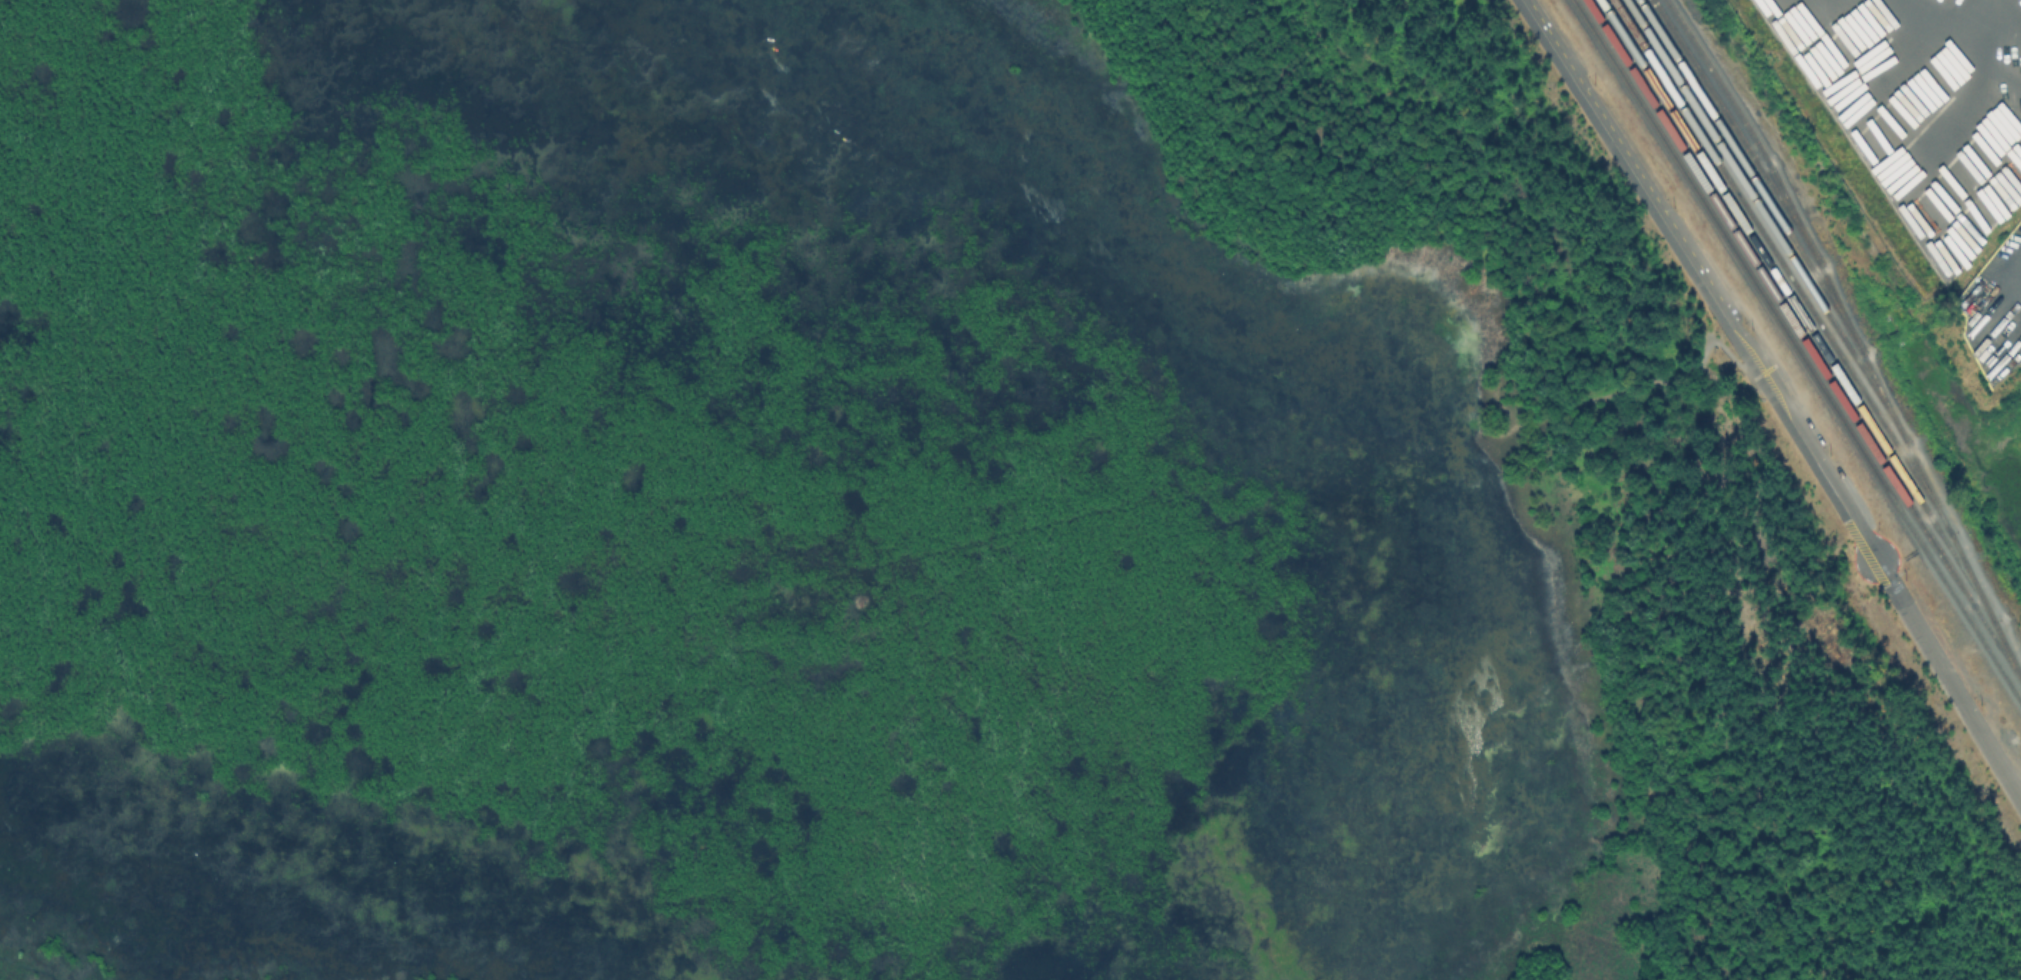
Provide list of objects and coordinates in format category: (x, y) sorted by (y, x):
railway: (1737, 133)
railway: (1750, 175)
railway: (1767, 220)
parking lot: (1702, 262)
railway: (1781, 265)
road: (1704, 277)
road: (1700, 291)
railway: (1797, 309)
railway: (1852, 334)
railway: (1804, 342)
railway: (1797, 350)
road: (1666, 359)
road: (1954, 693)

